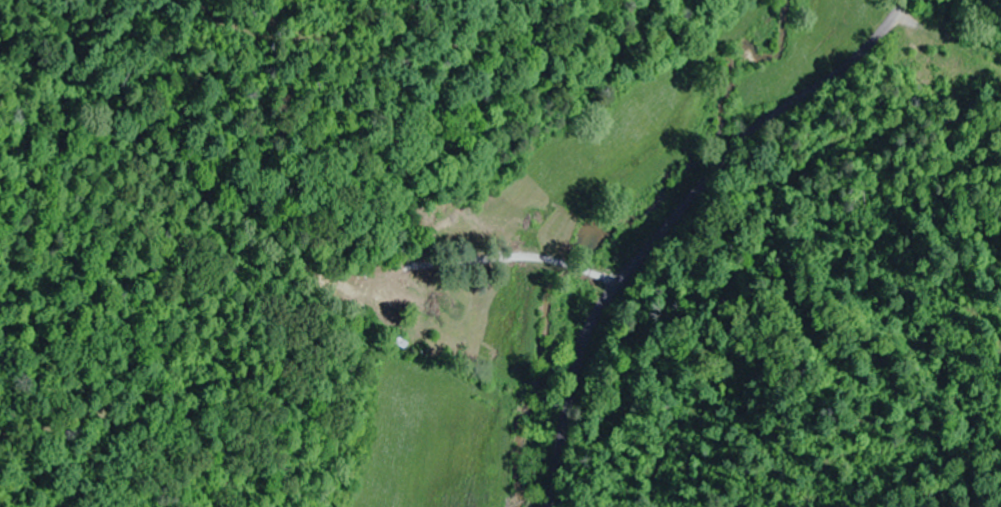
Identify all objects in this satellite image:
road: (671, 220)

